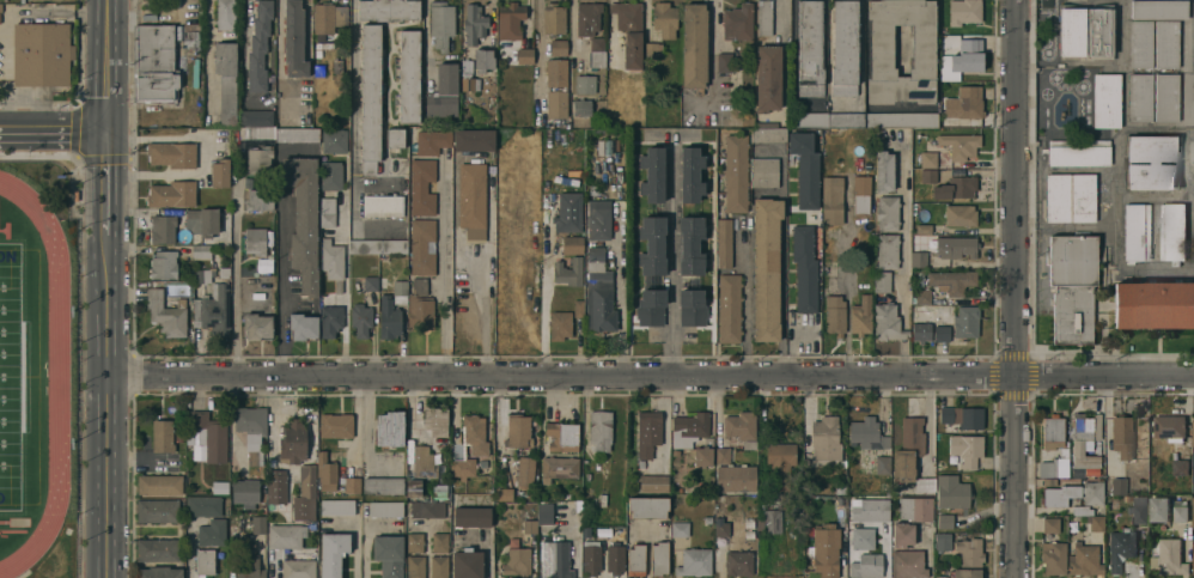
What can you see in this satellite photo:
building: (45, 0)
building: (388, 10)
building: (1159, 10)
building: (964, 12)
building: (225, 14)
building: (328, 18)
building: (586, 18)
building: (764, 18)
building: (553, 19)
building: (664, 19)
road: (784, 20)
building: (510, 22)
building: (738, 23)
building: (474, 24)
building: (440, 25)
building: (629, 32)
building: (1071, 32)
building: (1099, 32)
parking lot: (5, 34)
building: (190, 34)
road: (426, 36)
building: (293, 39)
building: (1140, 44)
building: (258, 45)
building: (694, 45)
building: (1166, 45)
building: (881, 47)
building: (558, 48)
building: (810, 49)
building: (843, 49)
building: (652, 50)
building: (597, 51)
road: (712, 51)
building: (41, 54)
building: (524, 56)
road: (242, 60)
building: (483, 60)
building: (962, 60)
road: (538, 61)
building: (724, 62)
road: (106, 65)
building: (153, 66)
building: (409, 77)
building: (468, 77)
building: (226, 79)
building: (767, 79)
building: (585, 84)
building: (556, 89)
building: (443, 92)
building: (370, 97)
building: (1139, 98)
building: (1166, 98)
building: (1107, 101)
building: (964, 103)
building: (581, 108)
road: (355, 115)
building: (260, 117)
building: (809, 118)
building: (846, 118)
building: (901, 118)
building: (767, 122)
road: (53, 129)
traffic signals: (106, 130)
building: (768, 133)
building: (296, 134)
building: (396, 138)
building: (334, 140)
building: (474, 140)
building: (432, 142)
building: (960, 145)
building: (1192, 152)
building: (1079, 153)
building: (171, 156)
building: (258, 159)
building: (928, 160)
building: (1151, 163)
building: (805, 166)
building: (736, 171)
building: (884, 171)
building: (220, 172)
building: (652, 172)
building: (690, 172)
building: (764, 172)
building: (330, 174)
building: (928, 176)
road: (106, 182)
building: (422, 184)
building: (955, 189)
building: (171, 193)
building: (861, 194)
building: (258, 196)
building: (831, 199)
building: (1070, 199)
building: (471, 200)
building: (383, 205)
building: (327, 212)
building: (568, 212)
building: (887, 214)
building: (960, 215)
building: (598, 217)
building: (303, 219)
building: (202, 220)
building: (162, 226)
building: (1137, 232)
building: (1172, 233)
road: (903, 237)
building: (255, 239)
building: (723, 241)
building: (572, 243)
building: (652, 244)
building: (690, 244)
building: (378, 245)
building: (421, 247)
building: (956, 248)
building: (201, 251)
building: (887, 253)
road: (672, 255)
building: (595, 256)
building: (918, 257)
building: (331, 258)
building: (163, 263)
road: (346, 267)
building: (804, 267)
building: (766, 268)
building: (568, 269)
road: (449, 272)
road: (238, 280)
building: (952, 280)
building: (371, 281)
building: (882, 281)
road: (280, 282)
road: (1015, 288)
building: (1072, 288)
building: (400, 290)
building: (920, 297)
building: (212, 299)
road: (745, 299)
building: (599, 300)
road: (781, 300)
building: (1153, 303)
building: (420, 304)
building: (692, 305)
building: (729, 306)
building: (577, 308)
building: (650, 308)
road: (485, 310)
road: (621, 310)
building: (166, 311)
building: (835, 311)
building: (861, 314)
building: (389, 316)
building: (360, 317)
building: (965, 320)
building: (330, 321)
building: (888, 321)
building: (559, 323)
building: (257, 325)
building: (304, 325)
road: (846, 328)
building: (921, 330)
road: (903, 331)
building: (942, 333)
road: (792, 345)
road: (902, 358)
park: (10, 376)
track: (57, 376)
road: (651, 378)
road: (109, 404)
building: (960, 416)
building: (250, 418)
building: (435, 419)
building: (335, 422)
building: (739, 424)
building: (1169, 424)
building: (389, 426)
building: (689, 426)
building: (599, 427)
building: (517, 428)
building: (1052, 430)
building: (1193, 430)
building: (647, 431)
building: (867, 432)
building: (211, 433)
building: (1121, 433)
building: (162, 434)
building: (562, 434)
building: (824, 436)
building: (292, 439)
building: (908, 446)
building: (965, 446)
building: (1085, 446)
building: (479, 448)
building: (702, 450)
building: (721, 452)
building: (255, 456)
building: (422, 461)
building: (780, 462)
building: (882, 463)
building: (558, 466)
building: (1178, 466)
building: (1054, 468)
building: (523, 469)
building: (325, 470)
building: (735, 475)
building: (653, 481)
building: (158, 482)
building: (925, 482)
building: (383, 483)
building: (276, 485)
building: (351, 485)
building: (1119, 485)
building: (413, 486)
building: (244, 489)
building: (952, 489)
building: (305, 492)
building: (1092, 493)
building: (504, 494)
building: (1059, 494)
building: (202, 504)
building: (337, 505)
building: (647, 505)
building: (385, 506)
building: (915, 506)
building: (427, 507)
building: (870, 507)
building: (157, 509)
building: (1082, 510)
building: (1139, 510)
building: (1159, 510)
building: (544, 511)
building: (1180, 511)
building: (1193, 511)
building: (471, 515)
building: (770, 519)
building: (945, 519)
building: (245, 522)
building: (1050, 523)
building: (1096, 523)
building: (529, 524)
building: (680, 525)
building: (724, 525)
building: (212, 530)
building: (902, 531)
building: (285, 534)
building: (863, 536)
building: (1095, 537)
building: (439, 540)
building: (414, 541)
building: (1120, 546)
building: (157, 547)
building: (824, 547)
building: (960, 547)
building: (331, 552)
building: (389, 554)
building: (591, 554)
building: (658, 555)
building: (1053, 555)
building: (1169, 555)
building: (615, 556)
building: (554, 558)
building: (635, 558)
building: (203, 560)
building: (517, 560)
building: (694, 560)
building: (1084, 560)
building: (738, 561)
building: (467, 562)
building: (907, 562)
building: (866, 564)
building: (248, 565)
building: (438, 565)
building: (415, 566)
building: (298, 567)
building: (1193, 568)
building: (158, 571)
building: (965, 572)

